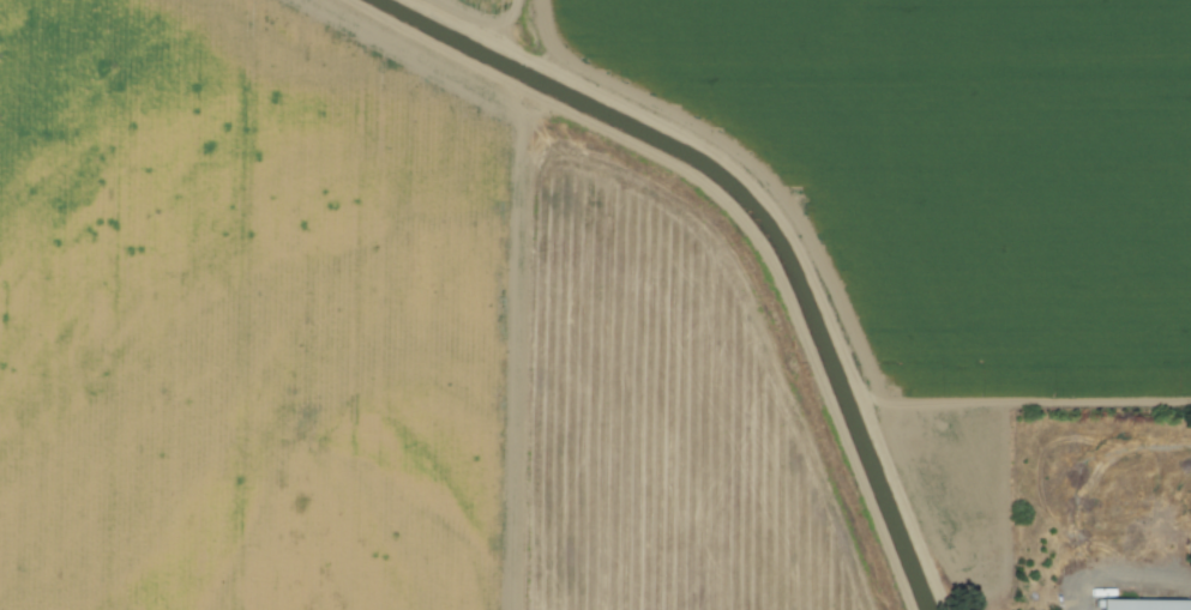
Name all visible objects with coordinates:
road: (1120, 572)
building: (1144, 604)

